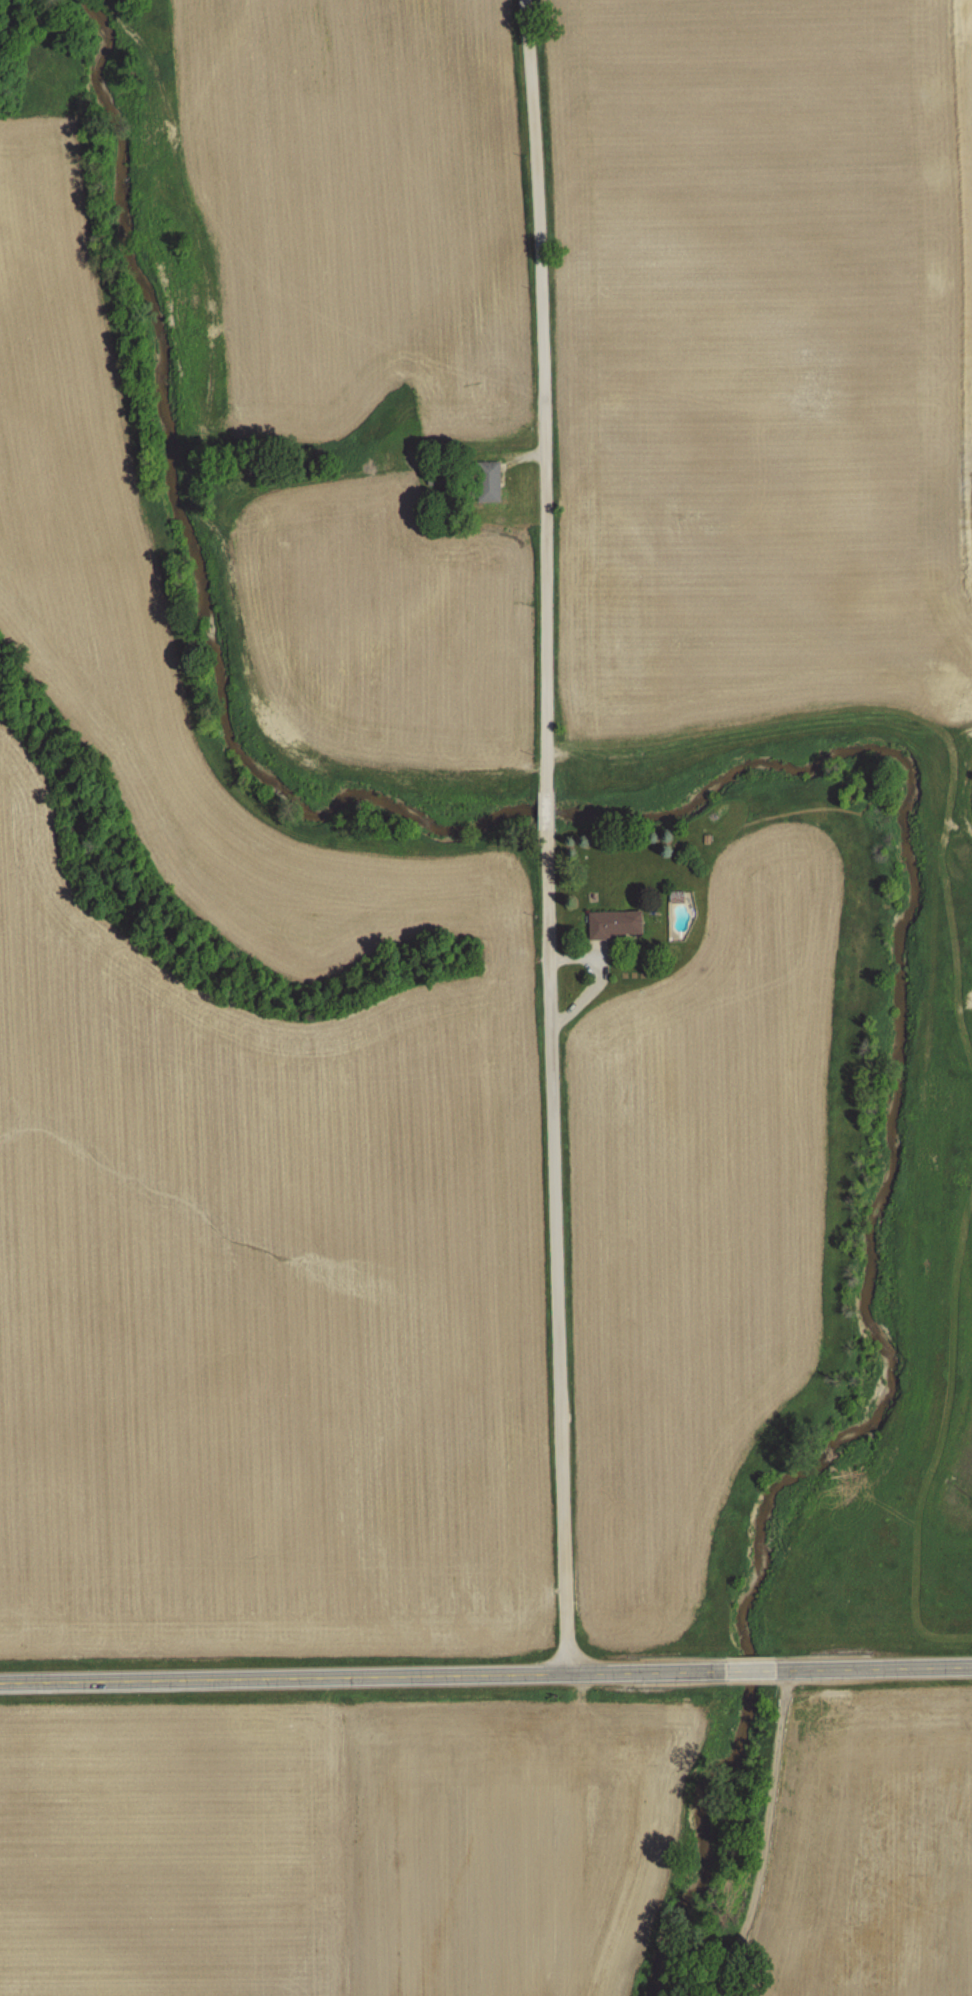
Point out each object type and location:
building: (487, 481)
road: (553, 834)
building: (614, 925)
road: (607, 970)
road: (486, 1670)
road: (765, 1836)

